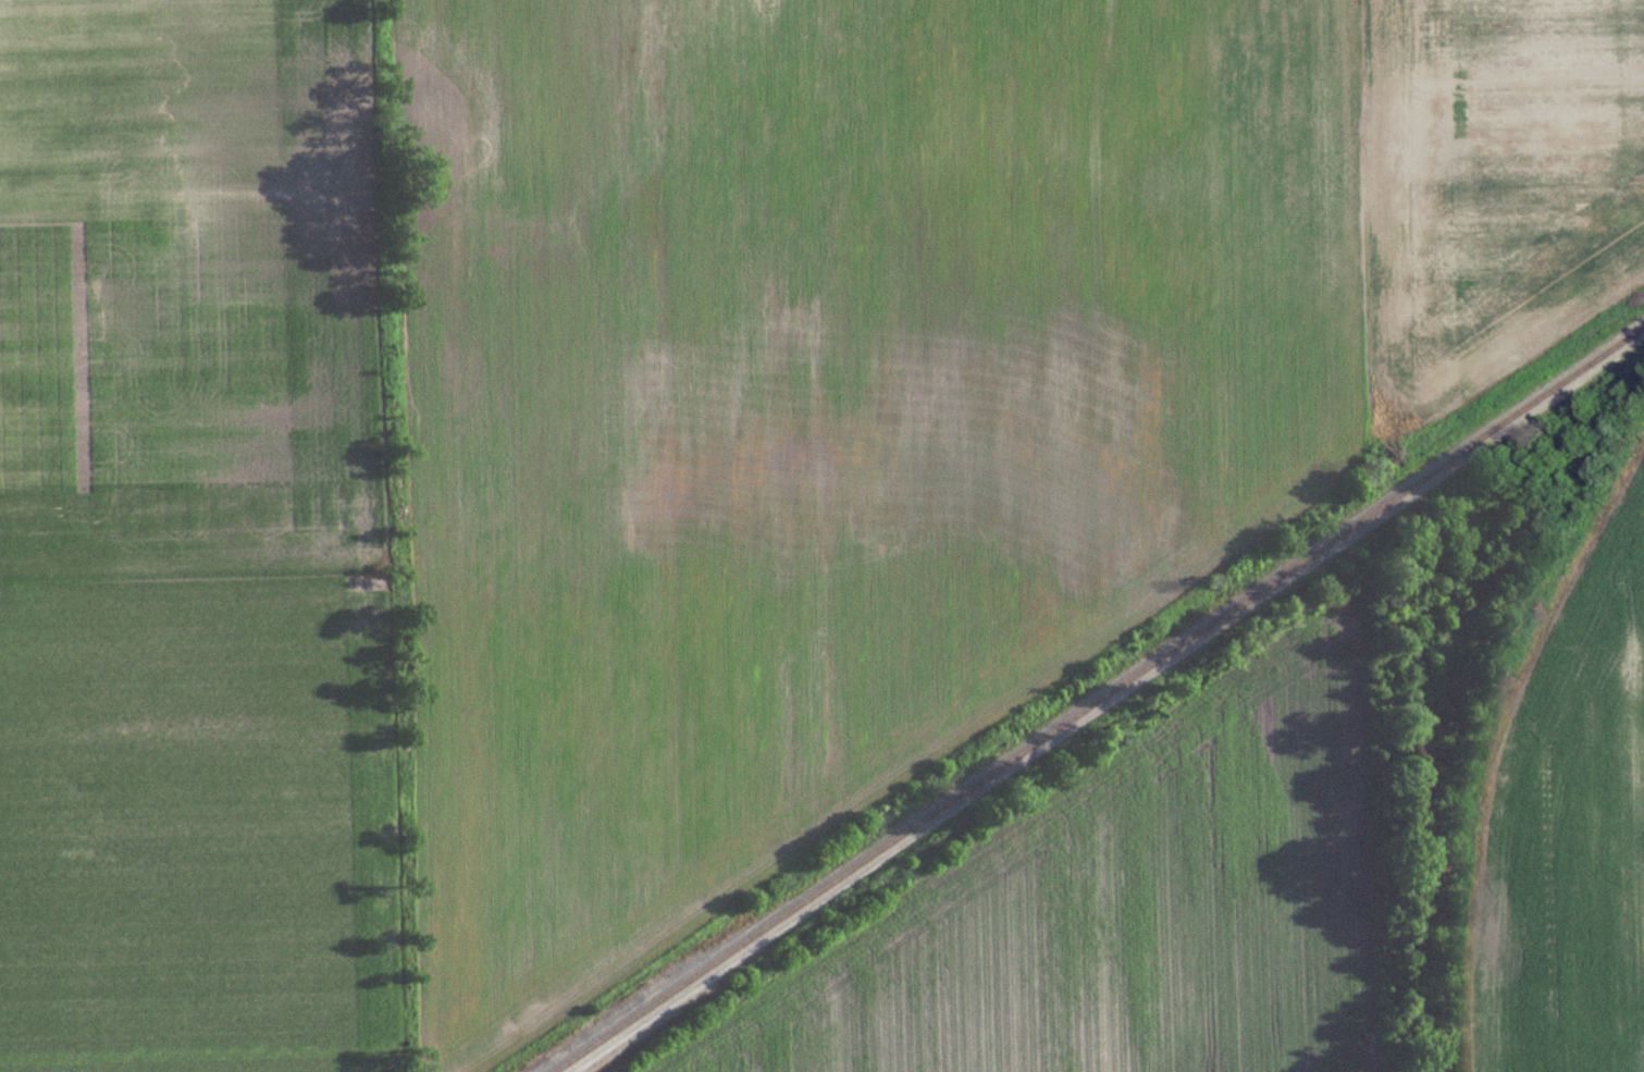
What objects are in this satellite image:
railway: (1096, 699)

